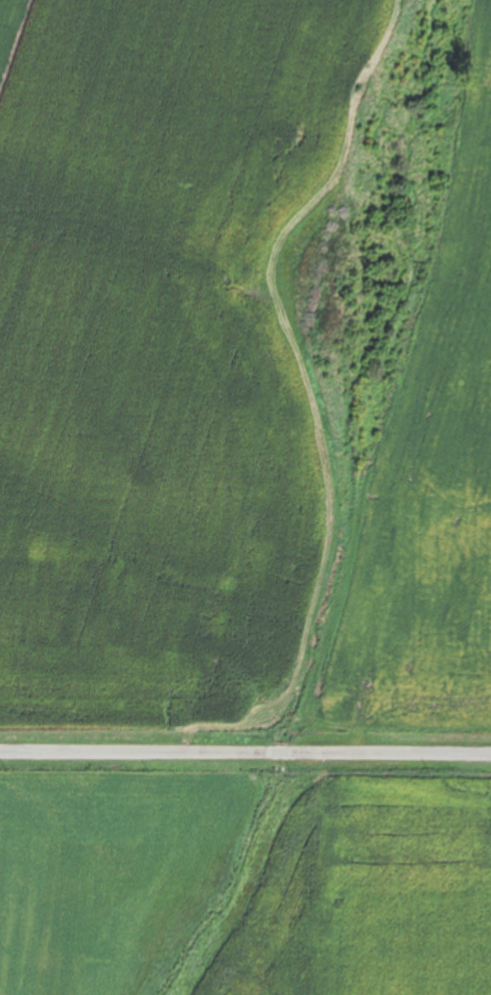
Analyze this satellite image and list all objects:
road: (100, 755)
road: (386, 757)
road: (241, 758)

